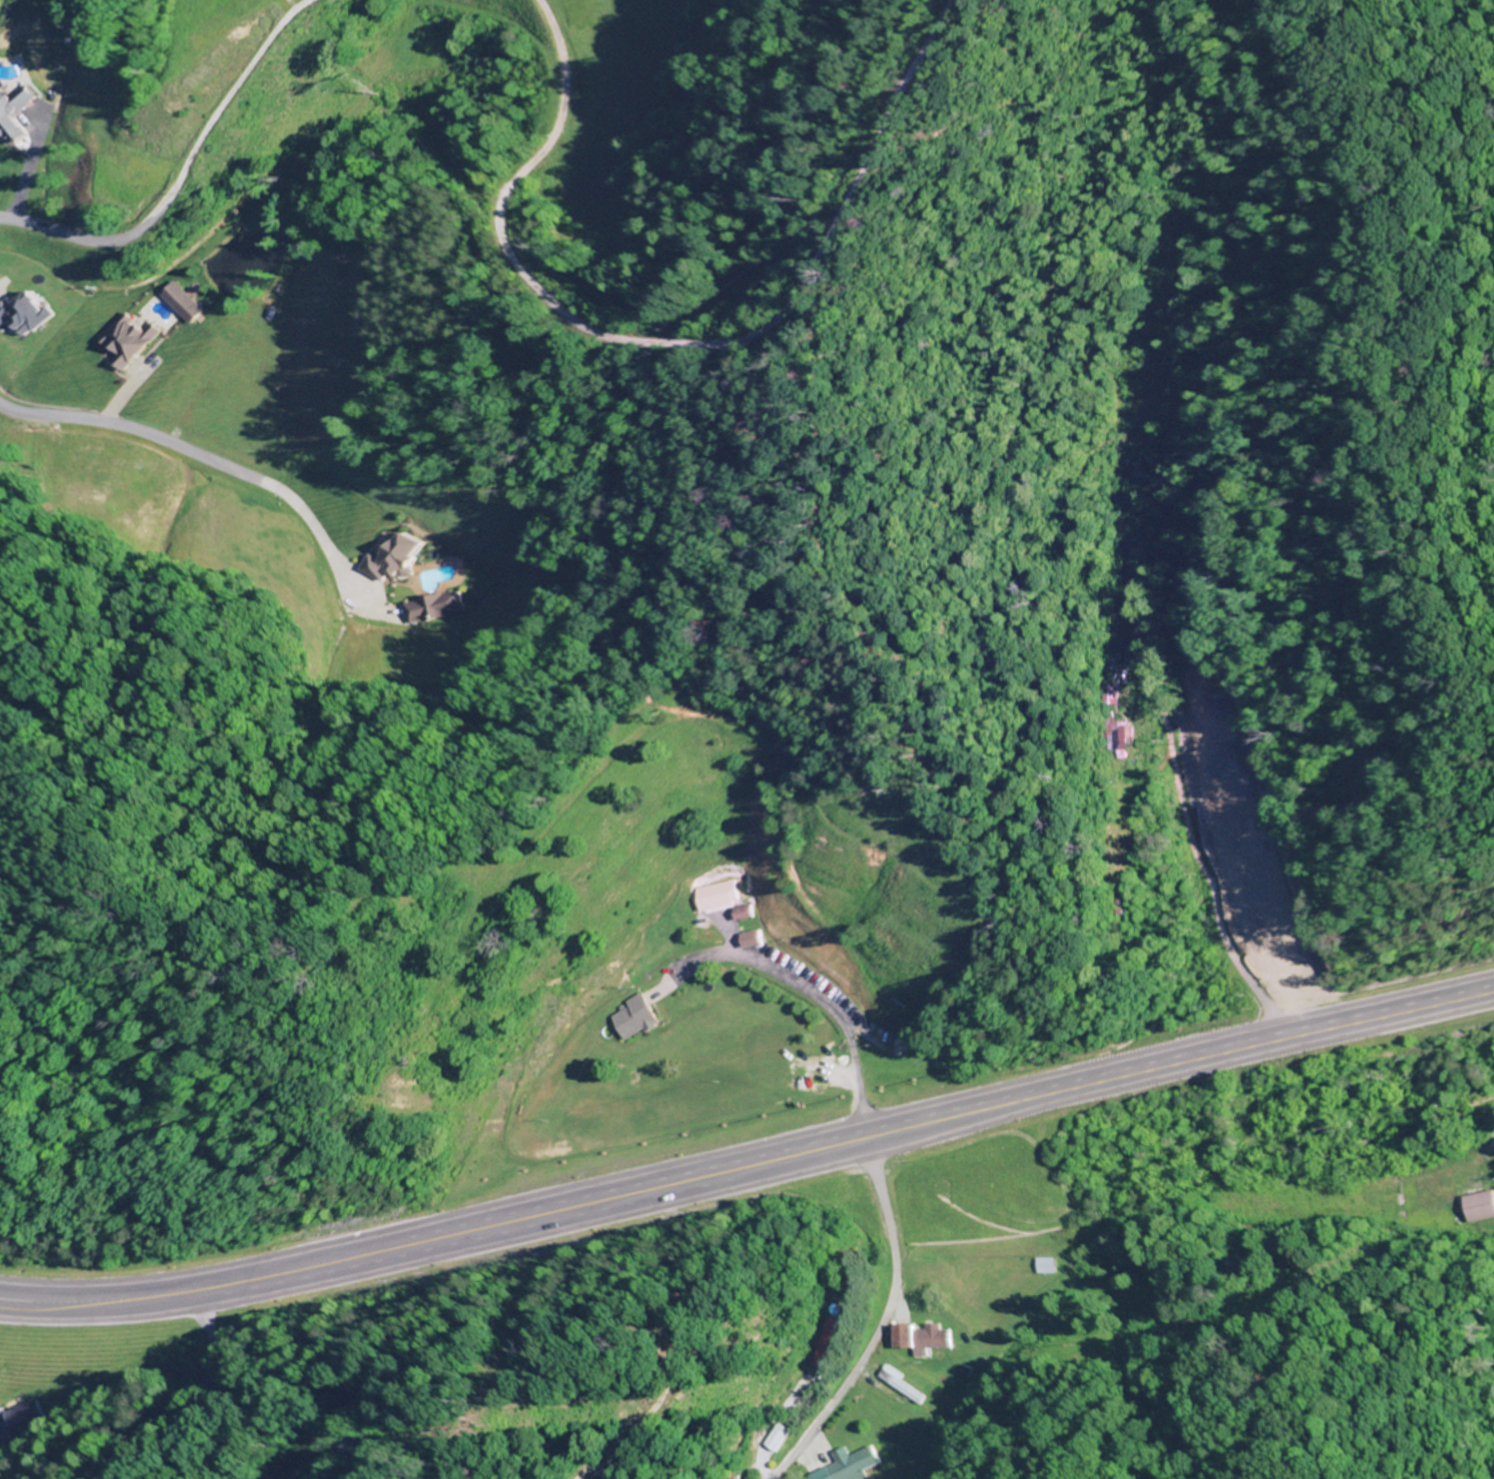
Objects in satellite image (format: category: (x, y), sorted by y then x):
road: (187, 178)
building: (181, 302)
building: (129, 340)
road: (681, 347)
road: (179, 452)
road: (343, 560)
building: (1118, 740)
road: (1161, 746)
road: (1157, 809)
building: (704, 896)
building: (1233, 897)
building: (734, 913)
building: (628, 1018)
road: (750, 1173)
building: (1473, 1206)
building: (1038, 1265)
road: (877, 1329)
building: (917, 1338)
building: (821, 1342)
building: (893, 1385)
building: (357, 1409)
building: (21, 1419)
building: (840, 1465)

